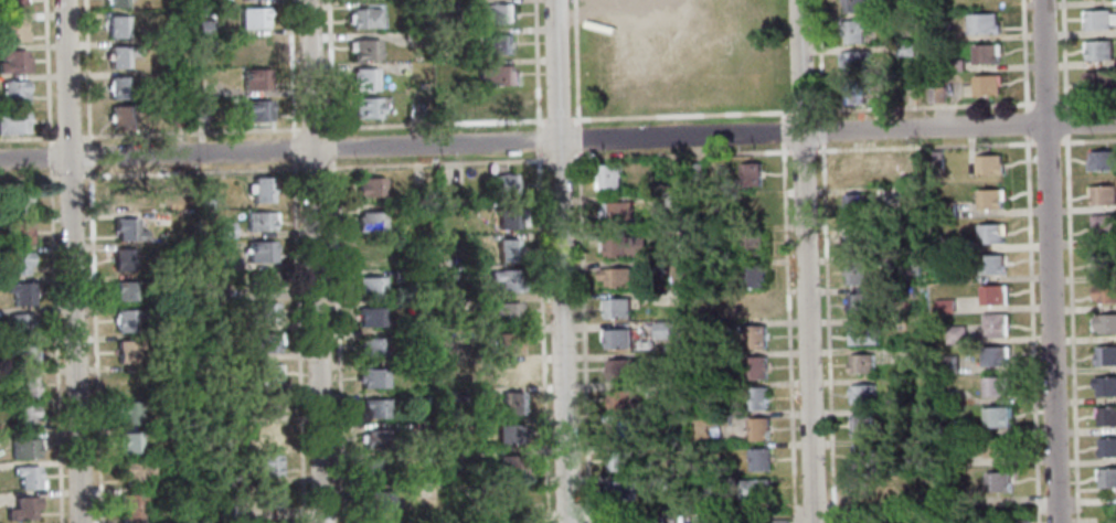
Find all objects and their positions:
building: (116, 2)
building: (12, 4)
building: (852, 6)
building: (496, 13)
building: (253, 18)
building: (365, 18)
building: (1098, 19)
building: (903, 23)
building: (982, 23)
building: (117, 26)
building: (204, 28)
building: (12, 31)
building: (144, 31)
building: (853, 31)
building: (942, 32)
building: (416, 39)
building: (493, 44)
building: (254, 47)
building: (366, 50)
building: (903, 50)
building: (1098, 50)
building: (986, 53)
building: (624, 54)
road: (1022, 54)
building: (120, 55)
road: (1062, 55)
road: (818, 58)
building: (853, 61)
building: (13, 62)
building: (954, 65)
road: (47, 72)
road: (86, 72)
building: (498, 75)
building: (256, 78)
building: (365, 79)
building: (1099, 81)
building: (691, 84)
building: (986, 84)
building: (118, 87)
building: (13, 92)
building: (854, 92)
building: (936, 94)
road: (1085, 100)
road: (1044, 103)
building: (500, 104)
building: (366, 107)
road: (922, 107)
building: (202, 109)
building: (256, 110)
road: (800, 111)
building: (119, 117)
road: (779, 117)
building: (178, 118)
building: (13, 121)
road: (1064, 121)
road: (1024, 122)
road: (434, 124)
road: (958, 127)
road: (820, 130)
road: (779, 132)
road: (68, 137)
road: (678, 137)
road: (28, 138)
road: (1086, 140)
road: (1045, 142)
road: (820, 146)
road: (922, 146)
road: (277, 150)
road: (800, 150)
road: (680, 153)
road: (89, 156)
road: (50, 157)
road: (559, 158)
building: (934, 159)
building: (908, 160)
building: (1102, 160)
road: (438, 161)
building: (989, 164)
road: (315, 166)
road: (190, 171)
building: (691, 171)
building: (852, 171)
building: (751, 174)
road: (70, 175)
road: (29, 177)
building: (608, 177)
building: (501, 184)
building: (370, 188)
building: (261, 190)
building: (899, 194)
building: (1103, 194)
building: (990, 198)
building: (121, 199)
building: (206, 199)
building: (15, 201)
building: (665, 201)
building: (857, 203)
building: (753, 209)
building: (946, 210)
building: (617, 213)
building: (509, 217)
building: (261, 221)
building: (371, 221)
building: (1104, 227)
building: (127, 230)
building: (225, 230)
building: (19, 232)
building: (991, 233)
building: (853, 239)
building: (753, 243)
building: (943, 243)
building: (626, 246)
building: (509, 249)
building: (261, 252)
building: (372, 256)
building: (123, 259)
road: (72, 260)
road: (298, 260)
road: (316, 260)
road: (337, 260)
road: (542, 260)
road: (560, 260)
road: (581, 260)
road: (804, 260)
road: (1048, 260)
building: (18, 263)
building: (230, 264)
building: (990, 264)
building: (1105, 264)
building: (910, 265)
building: (653, 266)
building: (855, 271)
building: (460, 273)
building: (402, 276)
building: (754, 276)
building: (616, 277)
building: (509, 280)
building: (262, 282)
building: (369, 287)
building: (212, 290)
building: (125, 291)
building: (904, 291)
building: (20, 293)
building: (1105, 293)
building: (993, 295)
building: (862, 303)
building: (460, 306)
building: (755, 306)
building: (944, 306)
building: (616, 307)
building: (265, 311)
building: (506, 311)
building: (371, 317)
building: (128, 319)
building: (1104, 323)
building: (19, 324)
building: (996, 324)
road: (1031, 329)
road: (1071, 329)
building: (661, 330)
road: (787, 333)
building: (863, 334)
building: (955, 334)
building: (756, 337)
building: (617, 339)
building: (916, 340)
building: (266, 342)
building: (507, 342)
road: (55, 345)
road: (96, 345)
building: (373, 348)
building: (126, 351)
building: (22, 354)
building: (995, 355)
building: (1106, 355)
building: (948, 363)
building: (456, 364)
building: (861, 364)
building: (410, 365)
building: (756, 367)
building: (619, 369)
building: (266, 373)
building: (512, 373)
building: (373, 378)
building: (996, 385)
building: (1105, 385)
building: (24, 386)
building: (716, 389)
building: (862, 394)
building: (456, 396)
building: (757, 398)
building: (620, 399)
building: (512, 403)
building: (265, 404)
building: (373, 408)
building: (128, 412)
building: (21, 416)
building: (997, 416)
building: (1106, 416)
building: (722, 419)
building: (860, 425)
building: (426, 426)
building: (947, 427)
building: (758, 429)
building: (621, 430)
building: (510, 434)
building: (266, 435)
building: (378, 439)
building: (128, 442)
building: (997, 447)
building: (1107, 447)
building: (23, 448)
building: (461, 456)
building: (861, 456)
building: (953, 457)
building: (427, 458)
building: (759, 459)
building: (620, 460)
building: (511, 465)
building: (267, 466)
building: (373, 470)
building: (138, 473)
building: (26, 477)
building: (235, 477)
building: (1106, 477)
building: (659, 481)
building: (997, 481)
building: (862, 485)
building: (754, 488)
building: (620, 490)
building: (268, 495)
building: (512, 495)
building: (379, 500)
building: (130, 508)
building: (23, 509)
building: (237, 510)
building: (846, 517)
building: (778, 521)
building: (884, 521)
building: (1020, 521)
building: (700, 522)

